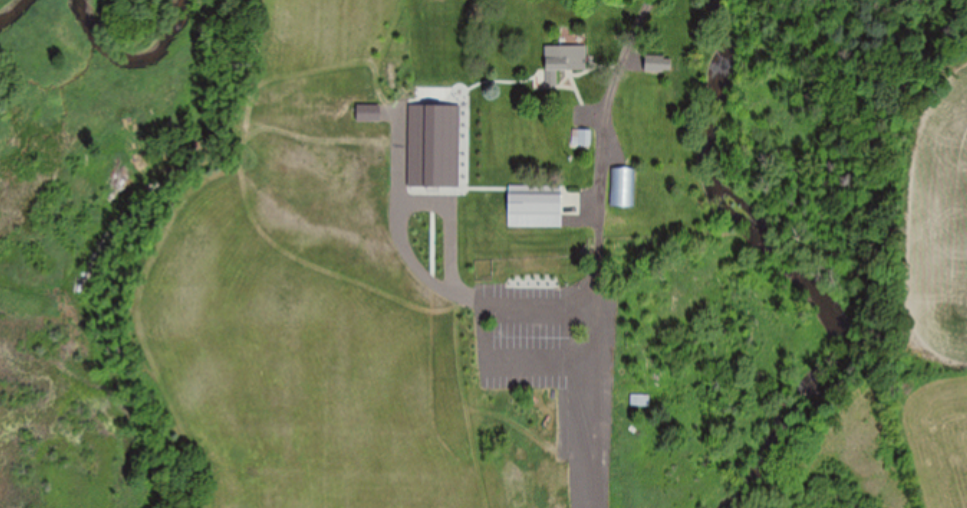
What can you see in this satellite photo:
building: (562, 61)
building: (657, 65)
road: (598, 95)
building: (581, 137)
building: (623, 187)
building: (533, 209)
building: (639, 401)

